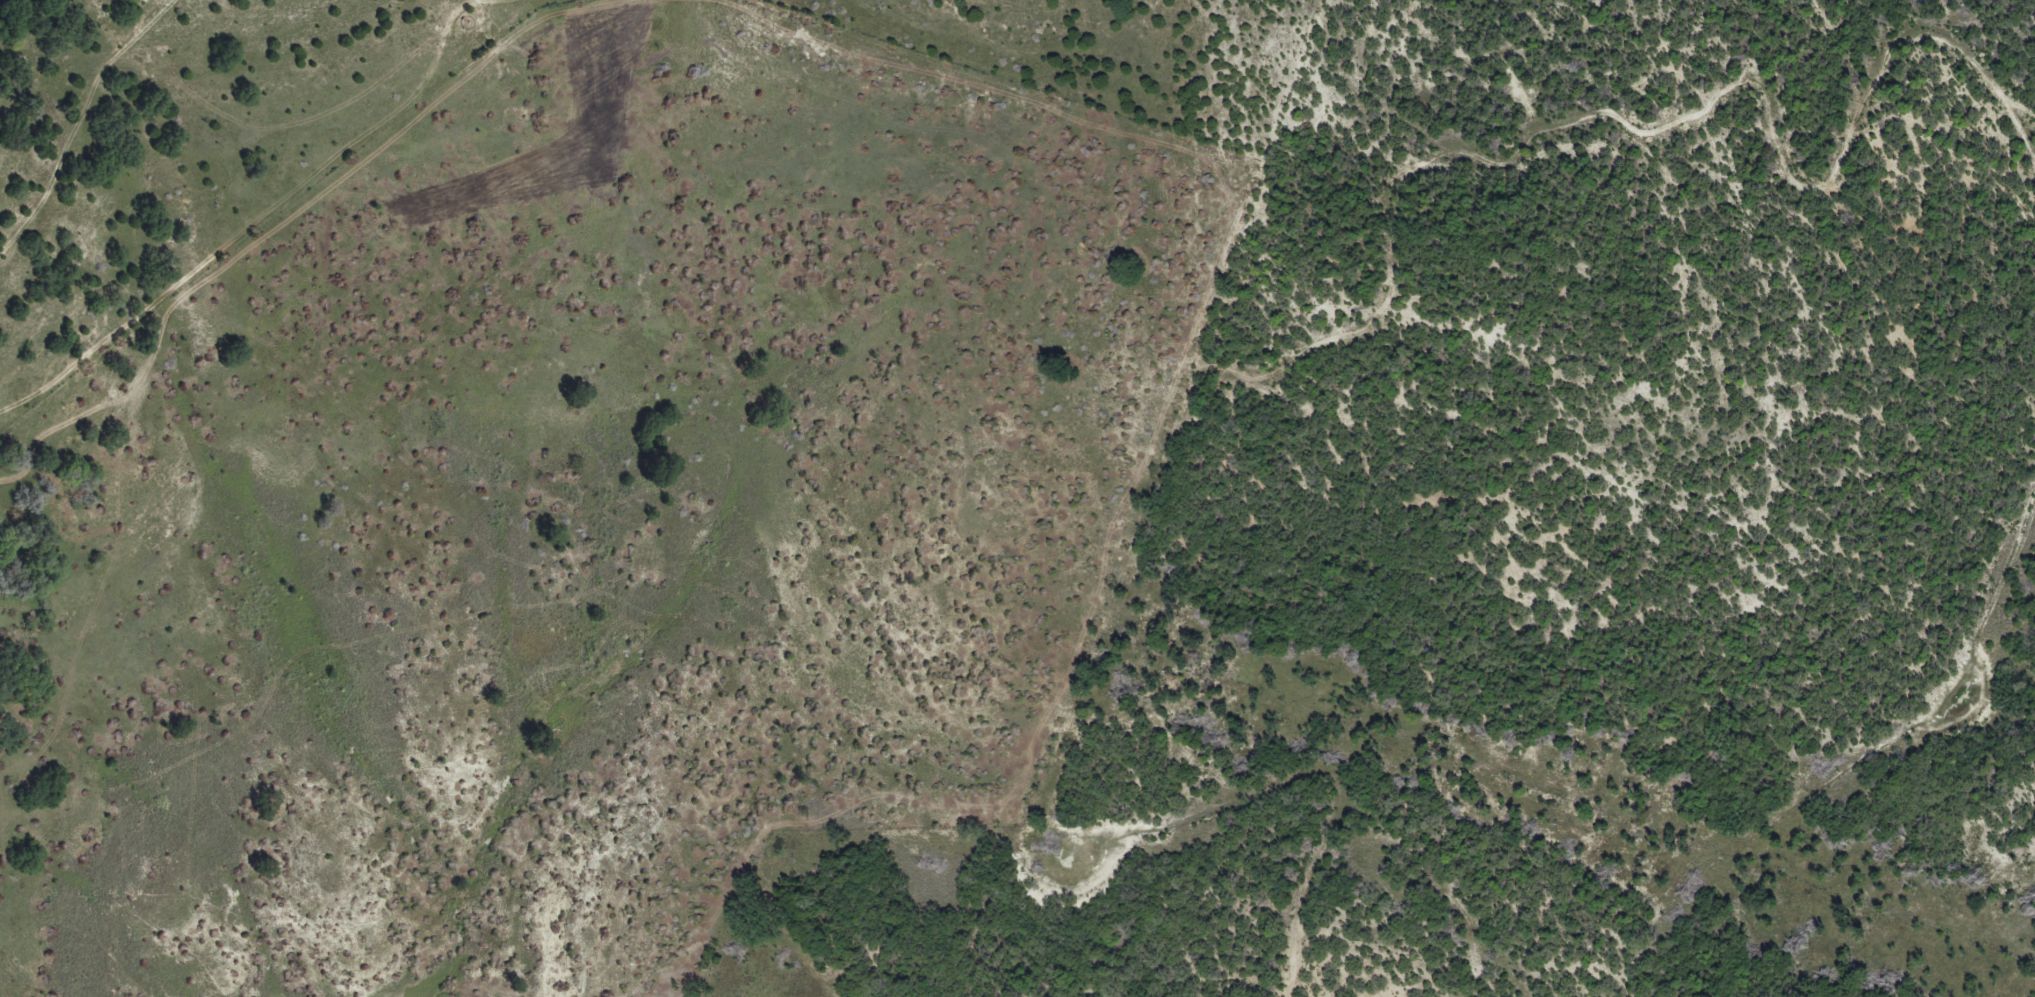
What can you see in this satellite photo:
road: (1974, 74)

